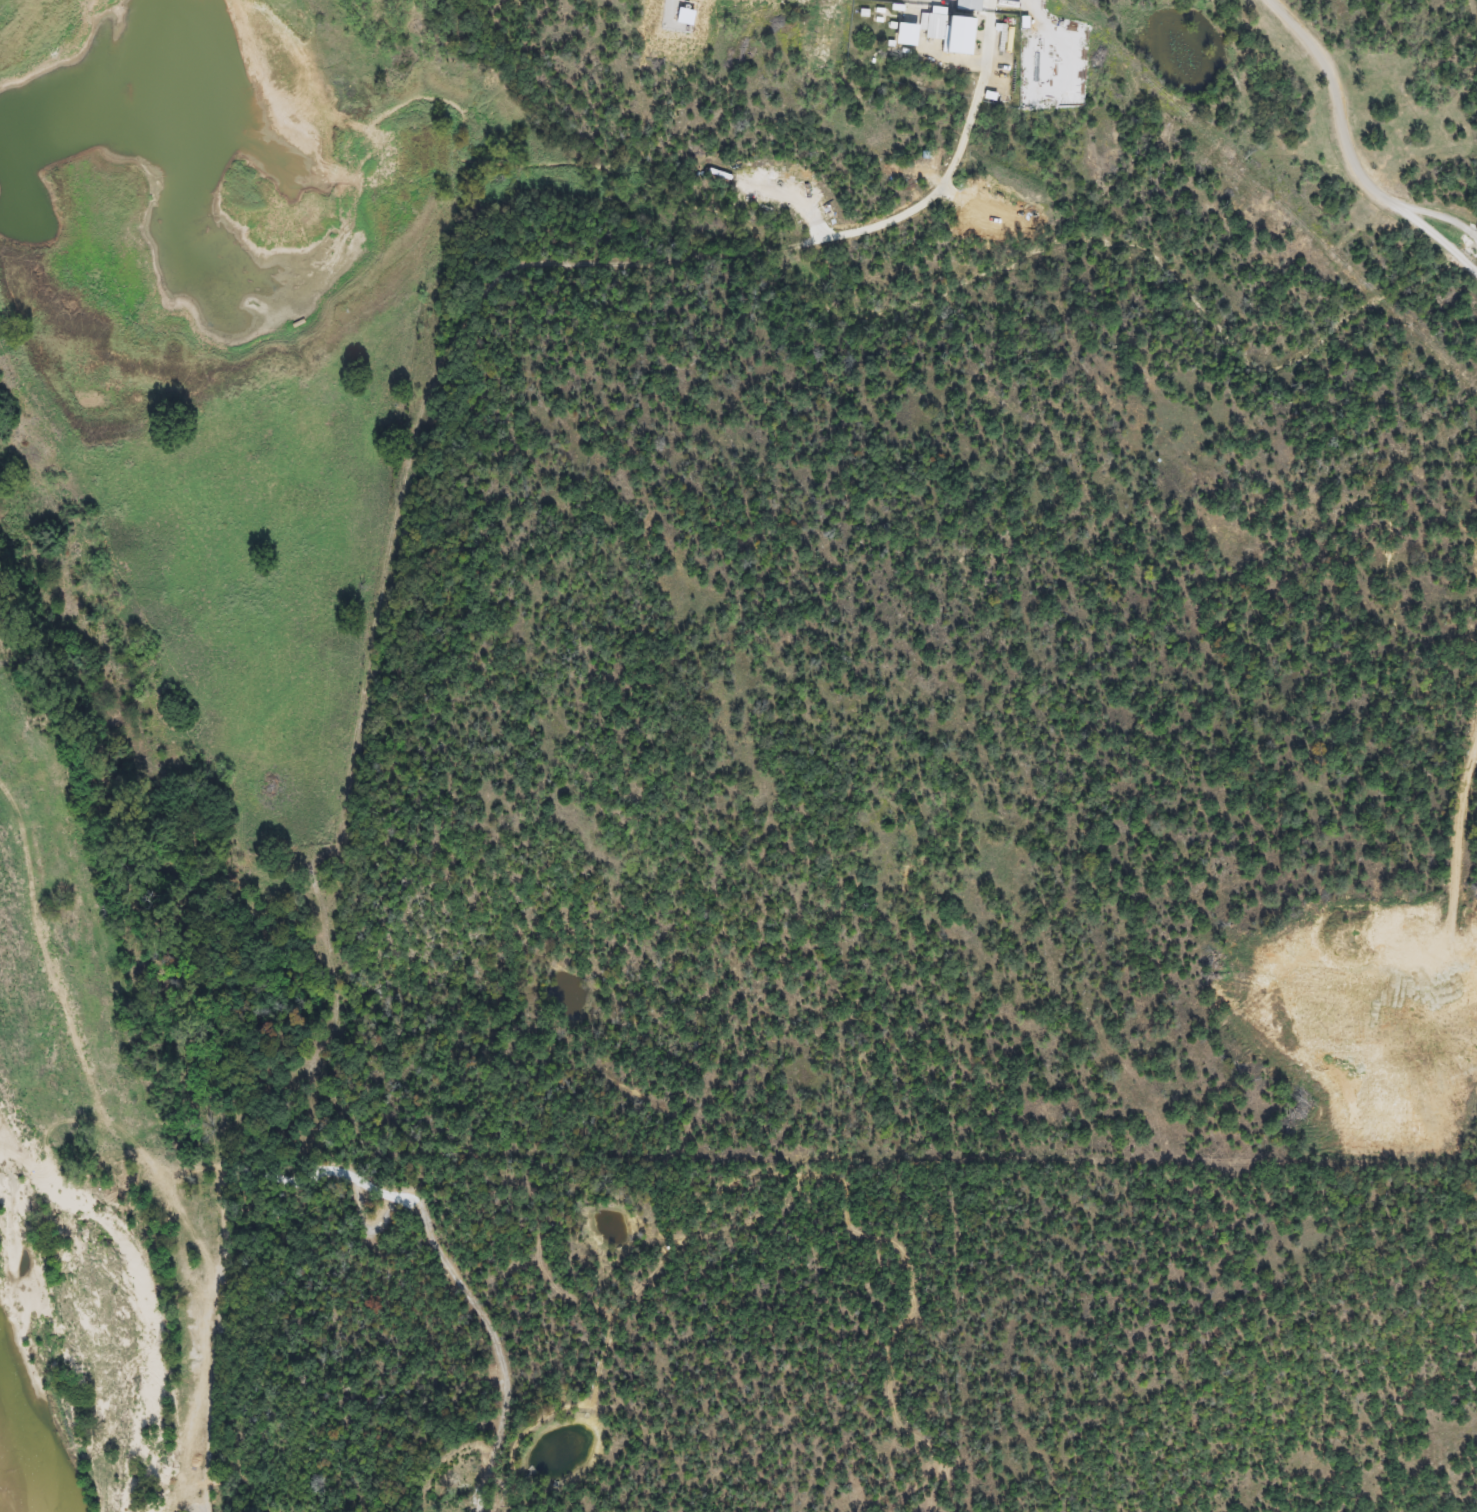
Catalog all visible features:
building: (932, 27)
building: (899, 35)
road: (1347, 154)
road: (1441, 217)
river: (39, 1430)
road: (199, 1510)

